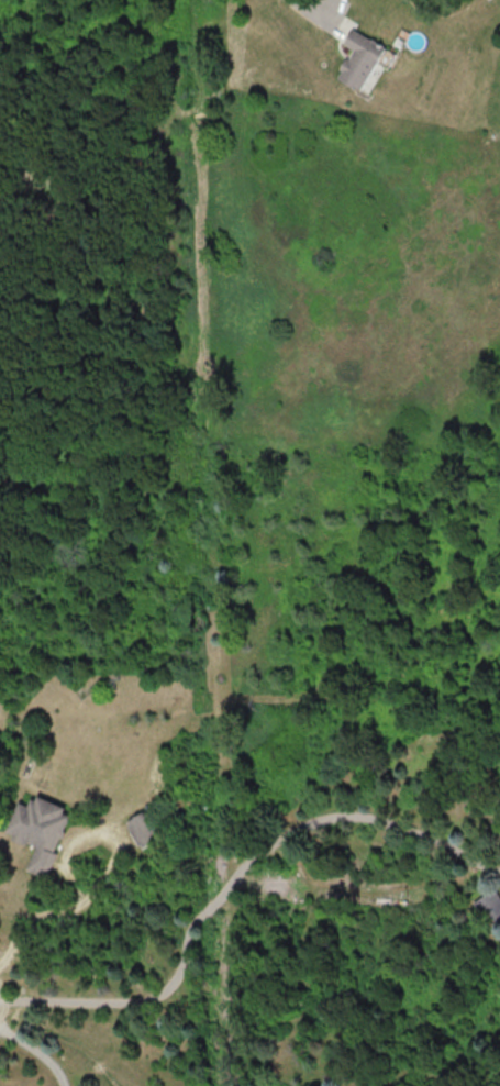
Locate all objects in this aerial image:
road: (319, 5)
building: (359, 57)
road: (100, 823)
building: (143, 828)
building: (40, 830)
road: (233, 873)
building: (490, 905)
road: (29, 912)
road: (38, 1049)

